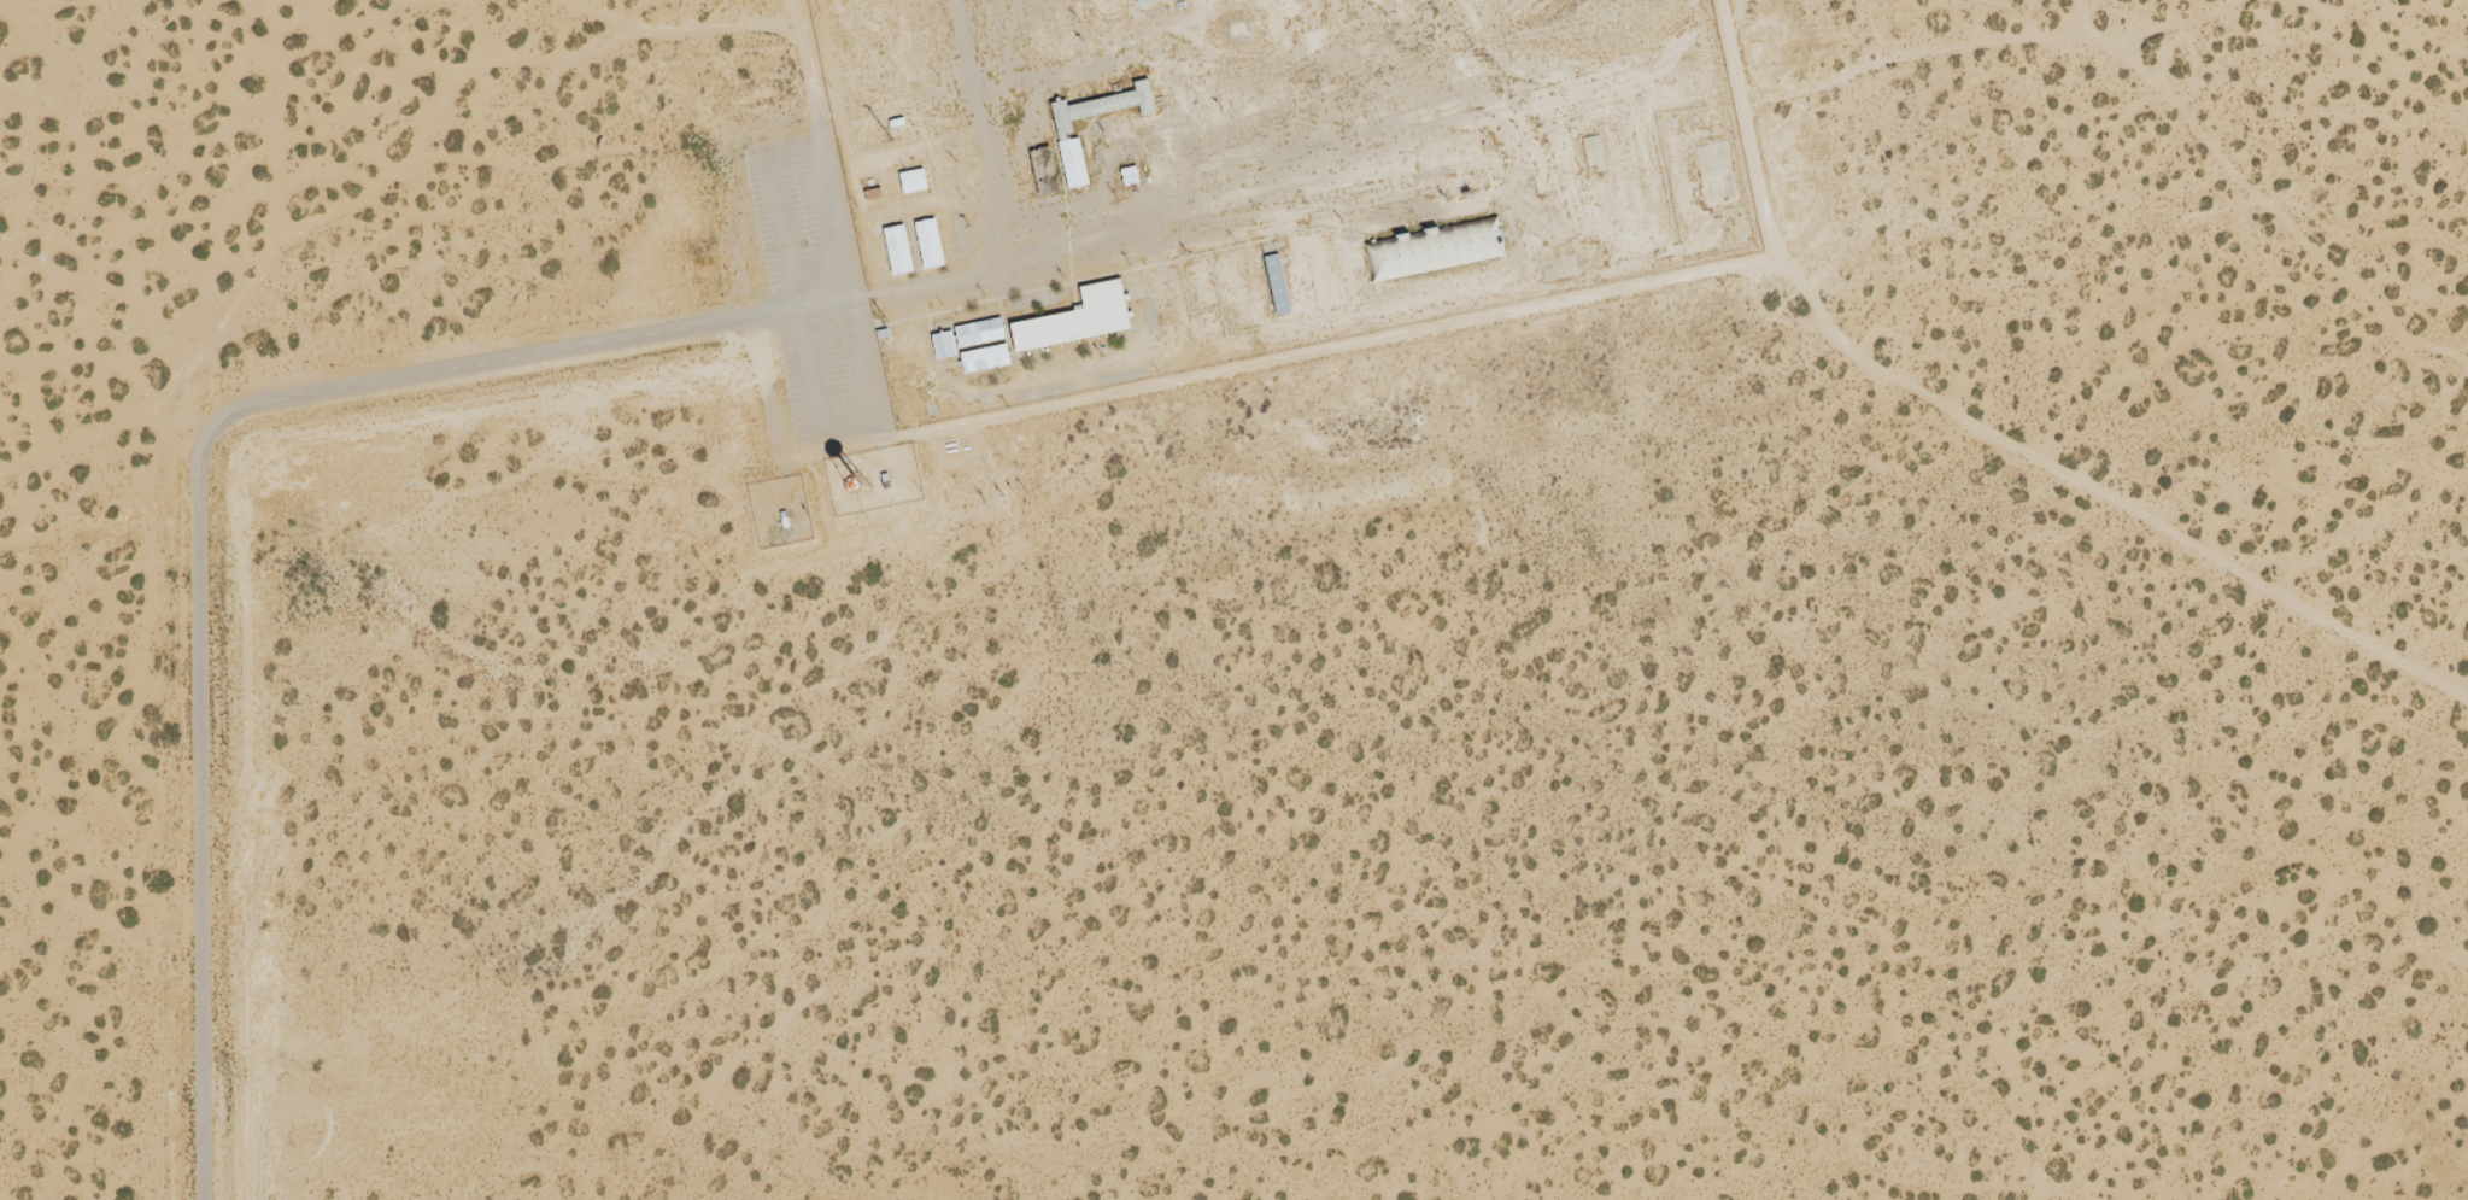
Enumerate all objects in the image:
building: (1101, 110)
building: (875, 159)
building: (1074, 169)
building: (913, 185)
building: (899, 211)
building: (930, 247)
building: (1315, 252)
building: (1276, 286)
building: (1323, 287)
building: (1077, 323)
building: (979, 336)
building: (943, 349)
building: (985, 362)
road: (199, 525)

